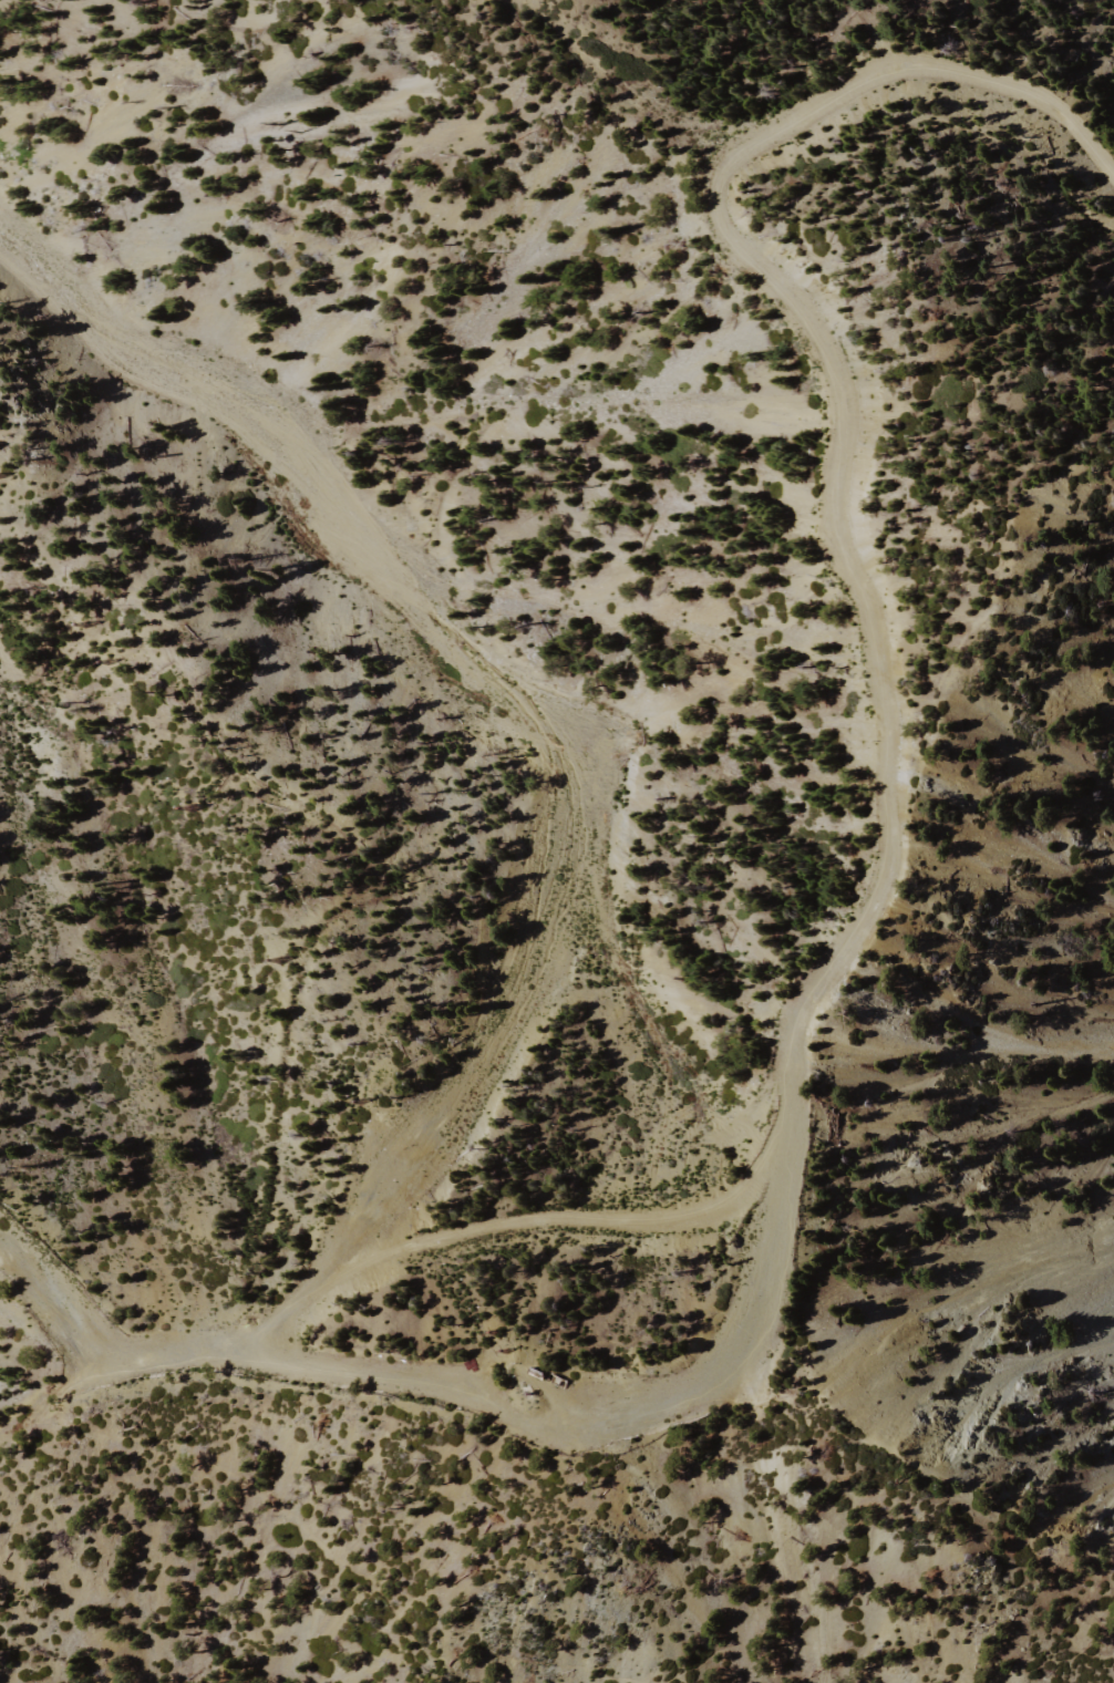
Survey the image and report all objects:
road: (852, 426)
aerialway pylon: (80, 624)
ski resort: (442, 669)
aerialway pylon: (185, 808)
aerialway pylon: (271, 960)
aerialway pylon: (353, 1102)
road: (475, 1230)
road: (733, 1343)
aerialway pylon: (493, 1345)
road: (121, 1370)
road: (362, 1373)
building: (532, 1387)
road: (331, 1555)
road: (890, 1669)

